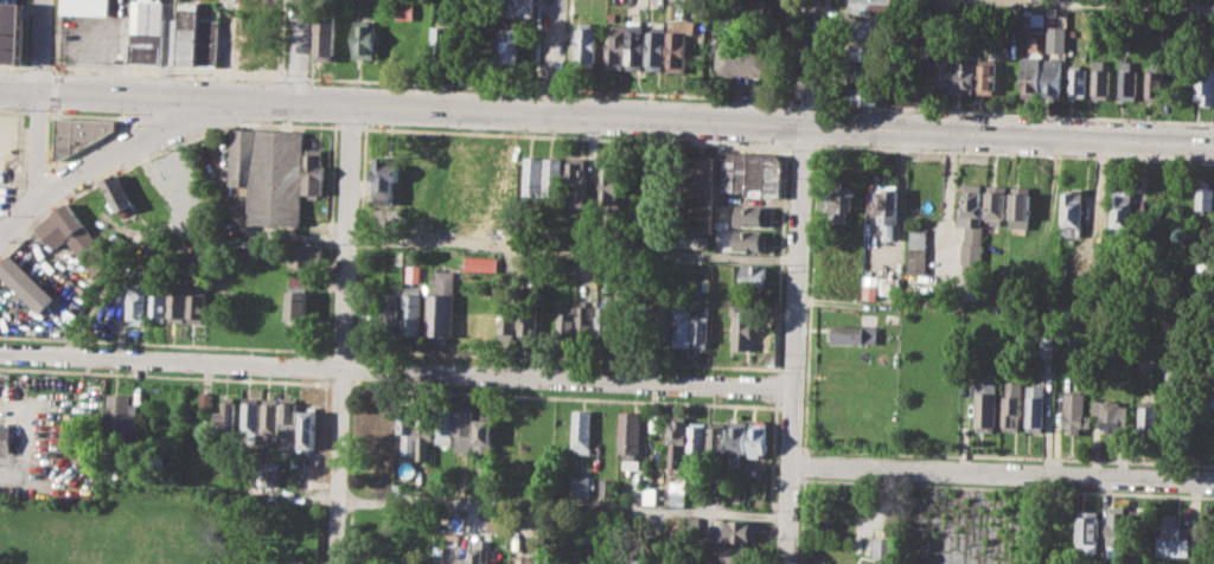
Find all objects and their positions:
road: (1101, 4)
building: (85, 7)
building: (874, 7)
building: (519, 8)
building: (405, 11)
building: (754, 11)
building: (870, 28)
building: (11, 31)
building: (147, 31)
building: (187, 32)
road: (24, 33)
road: (55, 36)
building: (228, 38)
building: (260, 38)
road: (282, 38)
road: (312, 39)
building: (326, 39)
building: (365, 39)
building: (207, 40)
building: (442, 41)
building: (1056, 41)
building: (510, 44)
road: (536, 44)
building: (637, 44)
building: (656, 44)
road: (568, 45)
building: (616, 45)
building: (679, 45)
road: (41, 46)
building: (588, 47)
road: (168, 50)
road: (787, 51)
road: (822, 51)
building: (865, 51)
road: (296, 52)
road: (552, 57)
building: (741, 60)
road: (806, 62)
road: (13, 65)
road: (929, 65)
road: (37, 66)
road: (167, 70)
building: (864, 73)
building: (1030, 75)
road: (295, 76)
building: (944, 76)
building: (965, 76)
building: (986, 76)
building: (1052, 76)
building: (1100, 79)
building: (1126, 79)
building: (1076, 81)
building: (1154, 81)
building: (1205, 82)
road: (422, 83)
road: (53, 90)
road: (549, 90)
road: (676, 95)
building: (864, 95)
road: (110, 97)
road: (804, 100)
road: (13, 109)
road: (37, 110)
road: (1014, 111)
road: (52, 113)
road: (96, 114)
road: (181, 120)
road: (718, 121)
road: (785, 122)
road: (350, 127)
building: (78, 134)
road: (575, 136)
road: (785, 142)
road: (800, 143)
road: (37, 145)
road: (127, 146)
road: (153, 152)
road: (1014, 152)
road: (71, 155)
building: (269, 172)
building: (314, 172)
building: (753, 173)
building: (533, 175)
building: (554, 177)
building: (576, 177)
building: (386, 180)
building: (611, 186)
building: (464, 191)
building: (698, 193)
building: (120, 194)
building: (1205, 197)
building: (839, 200)
building: (997, 203)
building: (1021, 206)
building: (888, 210)
building: (972, 212)
building: (1072, 212)
building: (1122, 212)
building: (754, 214)
road: (18, 216)
building: (72, 235)
building: (753, 239)
building: (919, 249)
road: (574, 250)
building: (306, 254)
building: (973, 254)
building: (481, 262)
building: (1206, 271)
building: (415, 273)
building: (754, 277)
building: (300, 281)
building: (25, 283)
building: (883, 284)
building: (139, 302)
building: (179, 302)
building: (159, 303)
building: (198, 303)
building: (298, 306)
building: (442, 306)
building: (413, 309)
building: (392, 310)
building: (376, 312)
building: (548, 315)
building: (509, 319)
building: (568, 322)
building: (586, 322)
building: (606, 322)
building: (528, 323)
building: (702, 325)
building: (722, 326)
building: (665, 327)
building: (683, 328)
building: (743, 329)
building: (854, 333)
road: (344, 335)
road: (165, 342)
road: (796, 344)
road: (339, 352)
road: (673, 363)
road: (397, 368)
building: (1174, 384)
building: (205, 400)
building: (988, 405)
building: (1014, 406)
building: (1037, 406)
building: (121, 412)
building: (1076, 412)
building: (1114, 414)
building: (226, 415)
building: (251, 415)
building: (269, 415)
building: (289, 416)
building: (1150, 417)
building: (445, 425)
building: (308, 427)
building: (385, 427)
building: (464, 427)
building: (544, 428)
building: (408, 430)
building: (582, 430)
building: (424, 432)
building: (484, 435)
building: (5, 437)
building: (628, 437)
building: (759, 437)
building: (699, 438)
building: (718, 438)
building: (737, 438)
building: (678, 440)
building: (483, 472)
road: (1003, 474)
road: (0, 475)
building: (270, 479)
building: (678, 483)
building: (581, 485)
building: (607, 487)
building: (713, 487)
road: (504, 502)
building: (497, 520)
building: (1117, 525)
parking lot: (966, 526)
building: (1137, 526)
building: (741, 530)
building: (1090, 530)
building: (1176, 536)
building: (882, 546)
road: (23, 549)
building: (475, 552)
building: (739, 553)
building: (532, 562)
building: (671, 562)
building: (826, 563)

